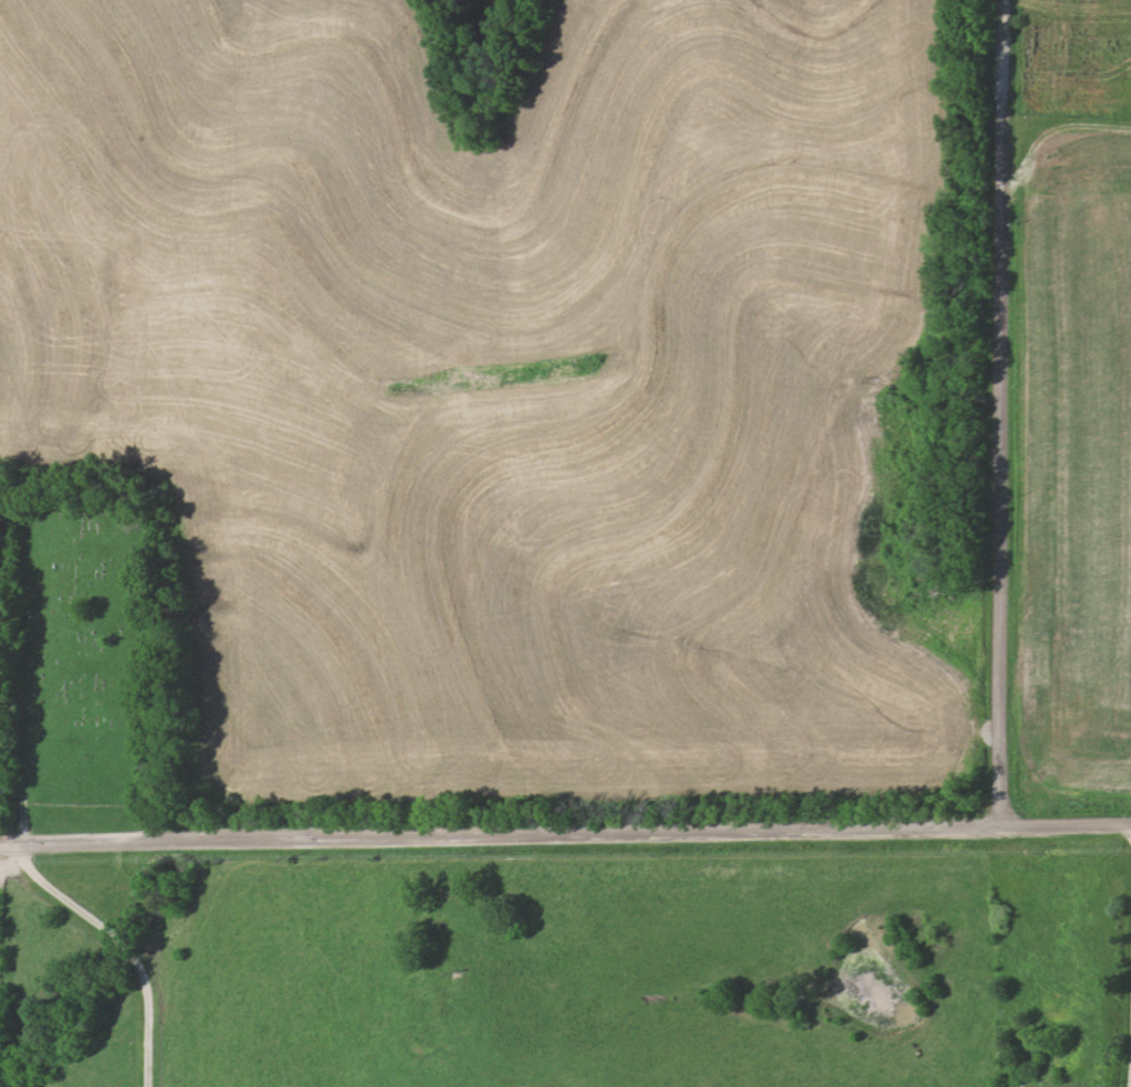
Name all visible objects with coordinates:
road: (999, 413)
park: (81, 641)
road: (565, 826)
road: (122, 943)

